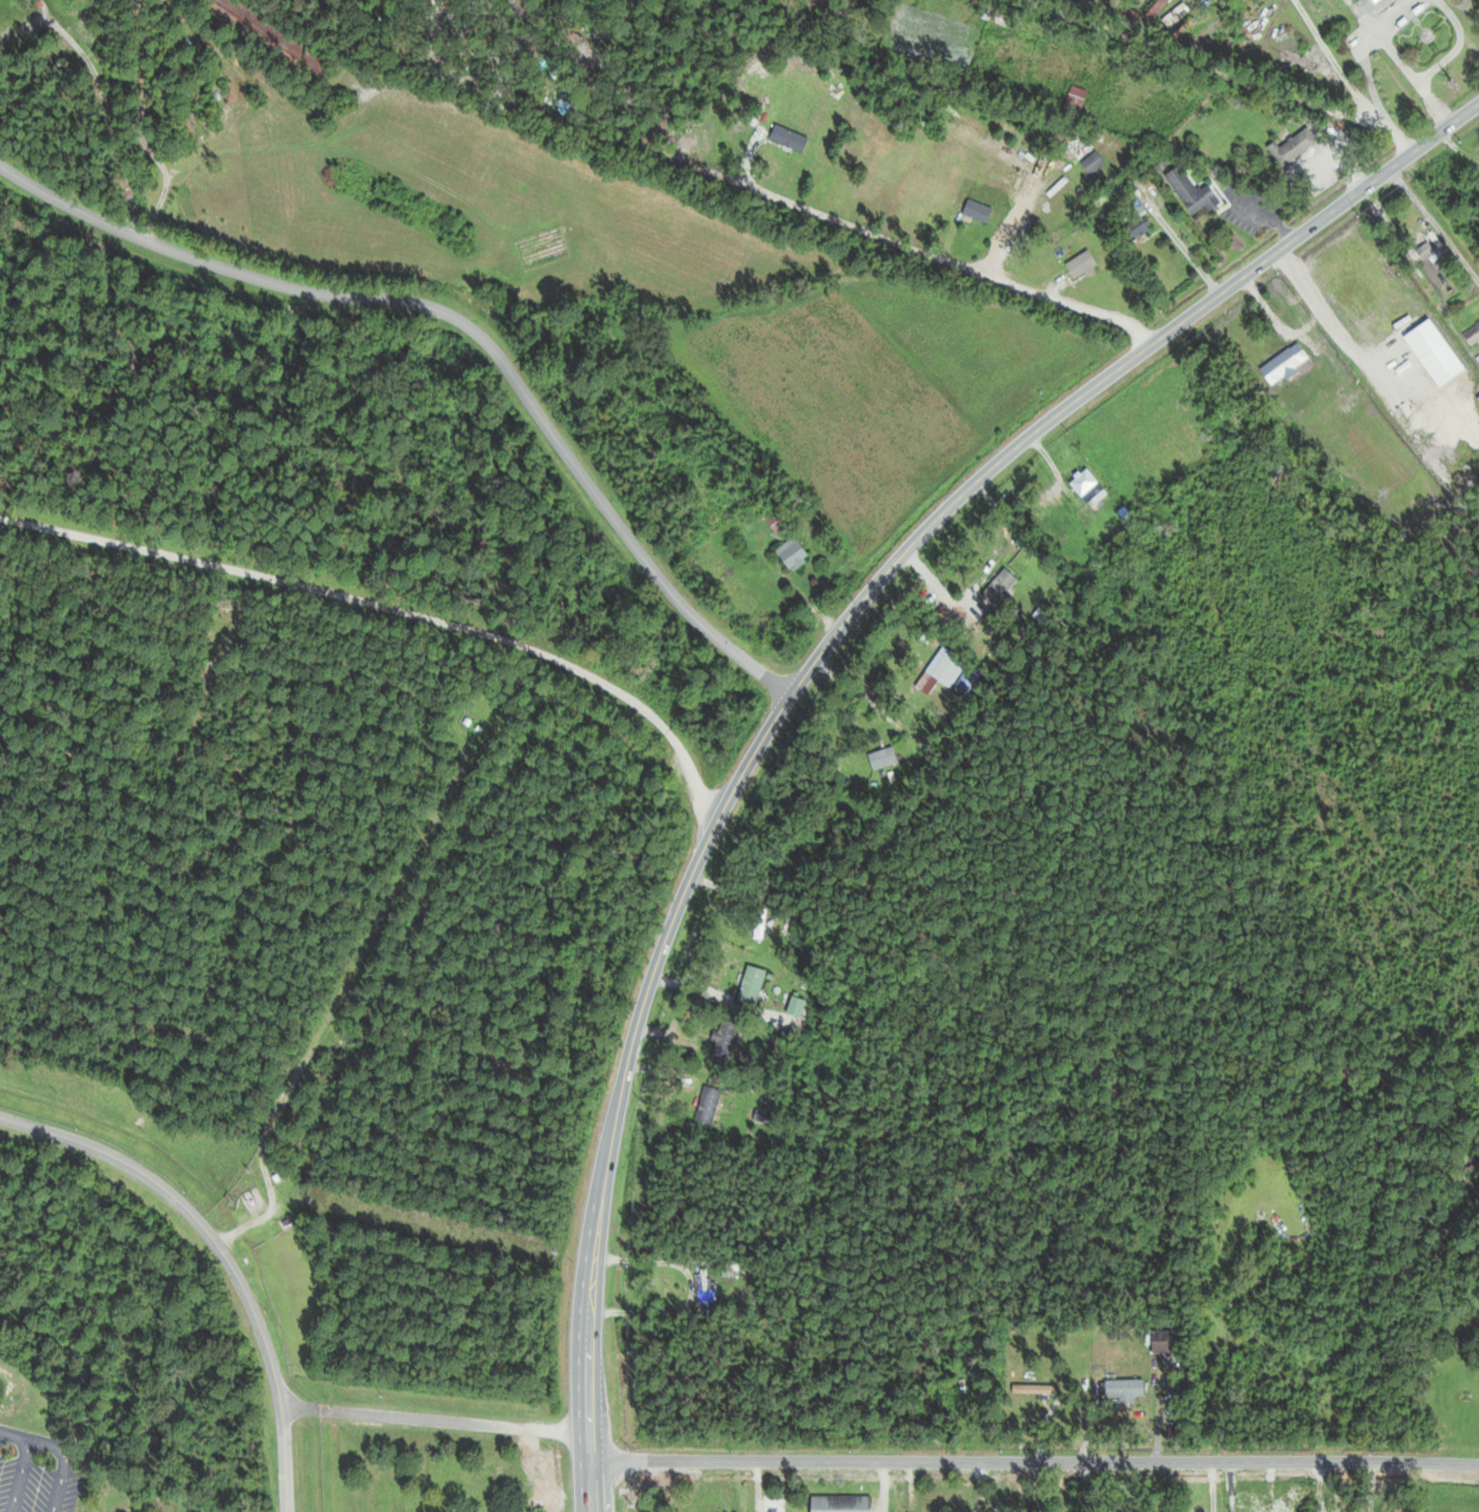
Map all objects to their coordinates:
building: (763, 0)
road: (1034, 2)
building: (1369, 4)
building: (1006, 18)
road: (1381, 40)
road: (1452, 46)
road: (1221, 70)
building: (1074, 102)
road: (1430, 104)
building: (788, 138)
building: (1294, 146)
building: (1093, 162)
building: (1193, 191)
building: (978, 210)
building: (1136, 228)
road: (1434, 228)
road: (893, 239)
building: (1082, 264)
road: (1319, 322)
road: (463, 324)
building: (1472, 334)
building: (1284, 364)
building: (1347, 404)
building: (1088, 487)
building: (776, 519)
building: (792, 553)
building: (998, 587)
road: (394, 610)
building: (941, 670)
road: (807, 672)
road: (852, 688)
building: (882, 758)
building: (758, 923)
building: (750, 987)
building: (796, 1005)
building: (723, 1042)
building: (708, 1105)
road: (221, 1255)
building: (729, 1270)
road: (690, 1288)
building: (706, 1288)
building: (1164, 1342)
building: (985, 1385)
building: (1121, 1388)
building: (1033, 1389)
road: (436, 1419)
road: (1035, 1460)
building: (841, 1503)
building: (780, 1510)

